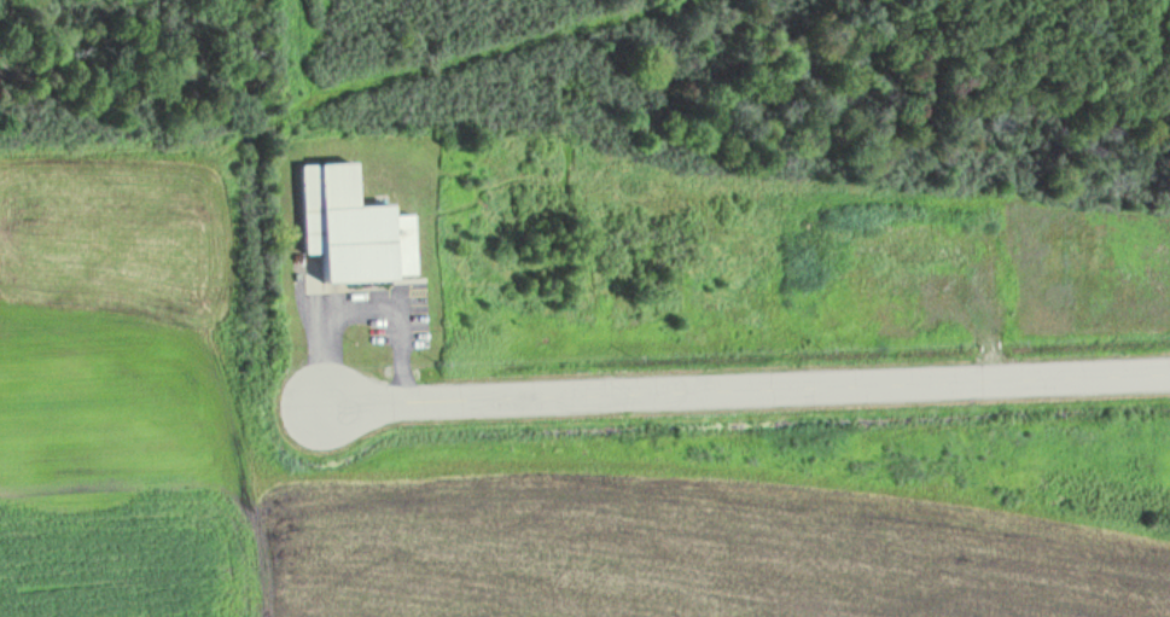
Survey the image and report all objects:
park: (704, 98)
building: (348, 208)
road: (353, 289)
road: (1079, 376)
road: (654, 392)

